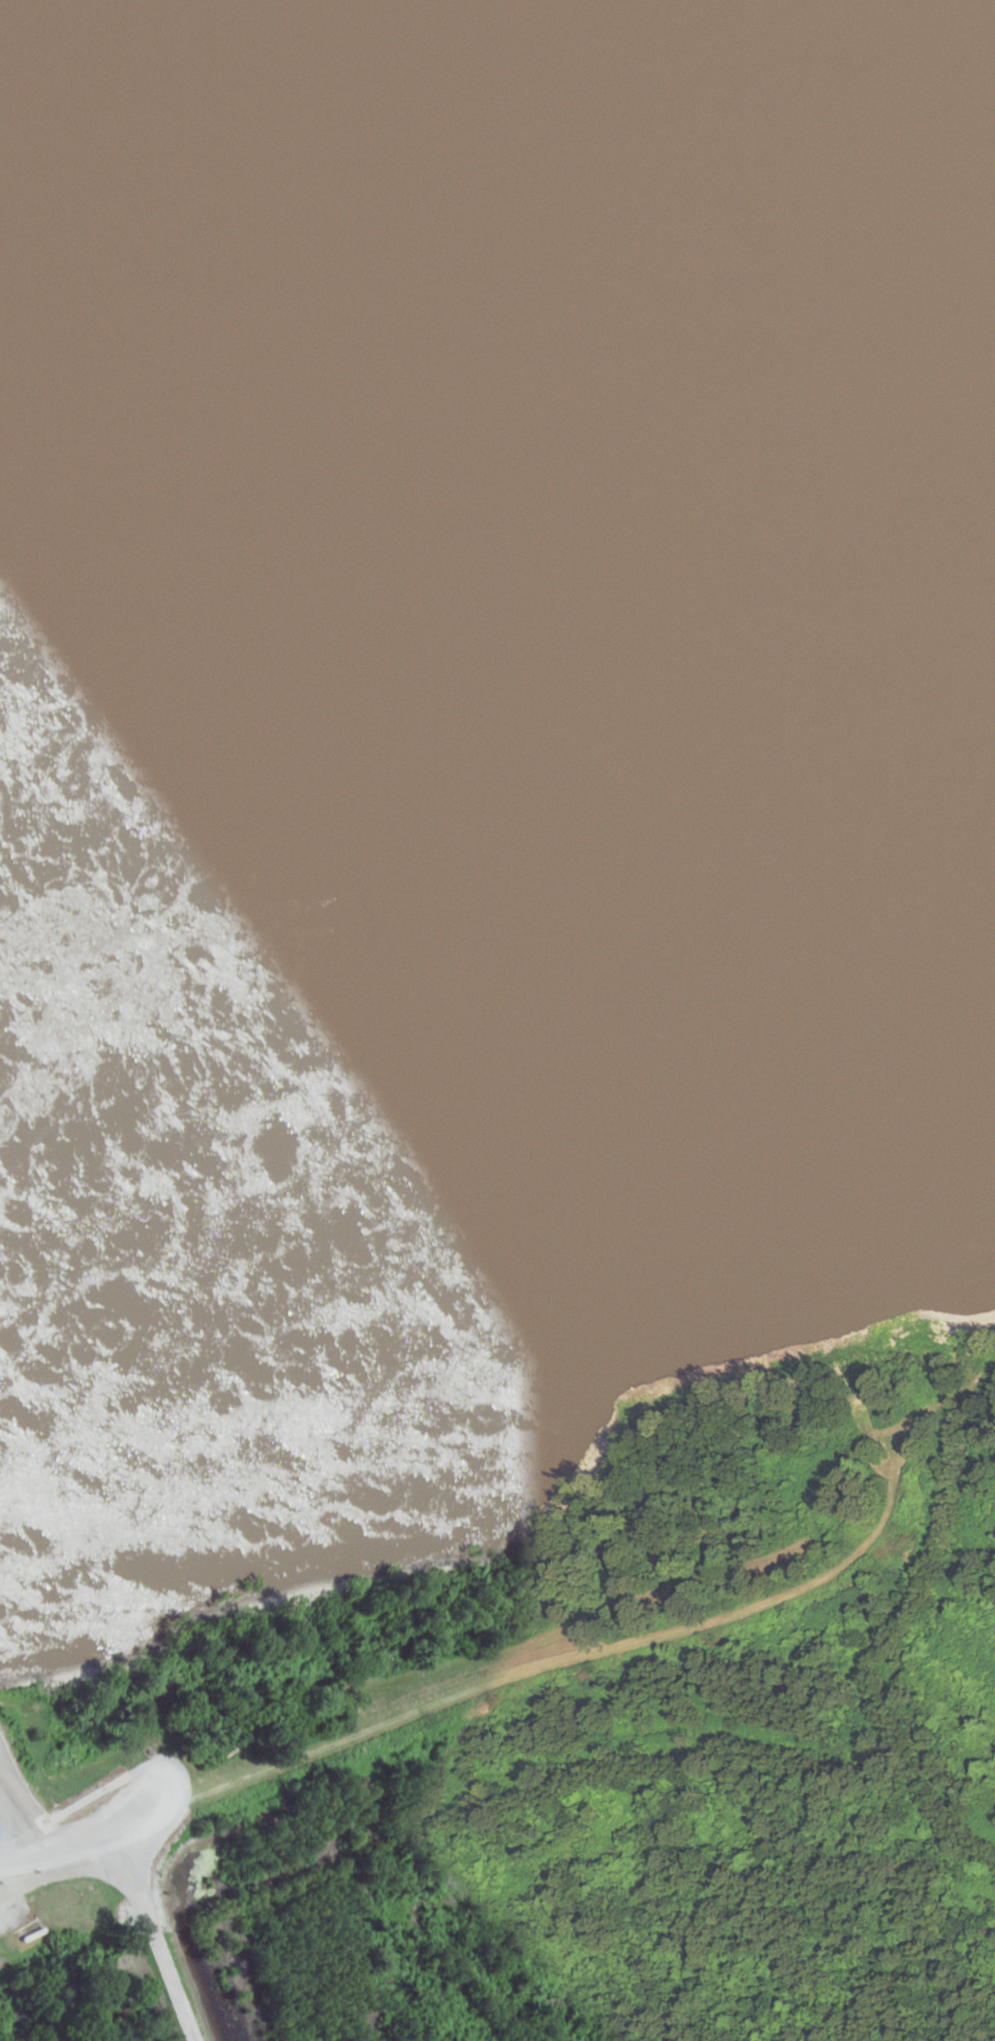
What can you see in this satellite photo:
river: (516, 443)
road: (572, 1639)
road: (142, 1892)

